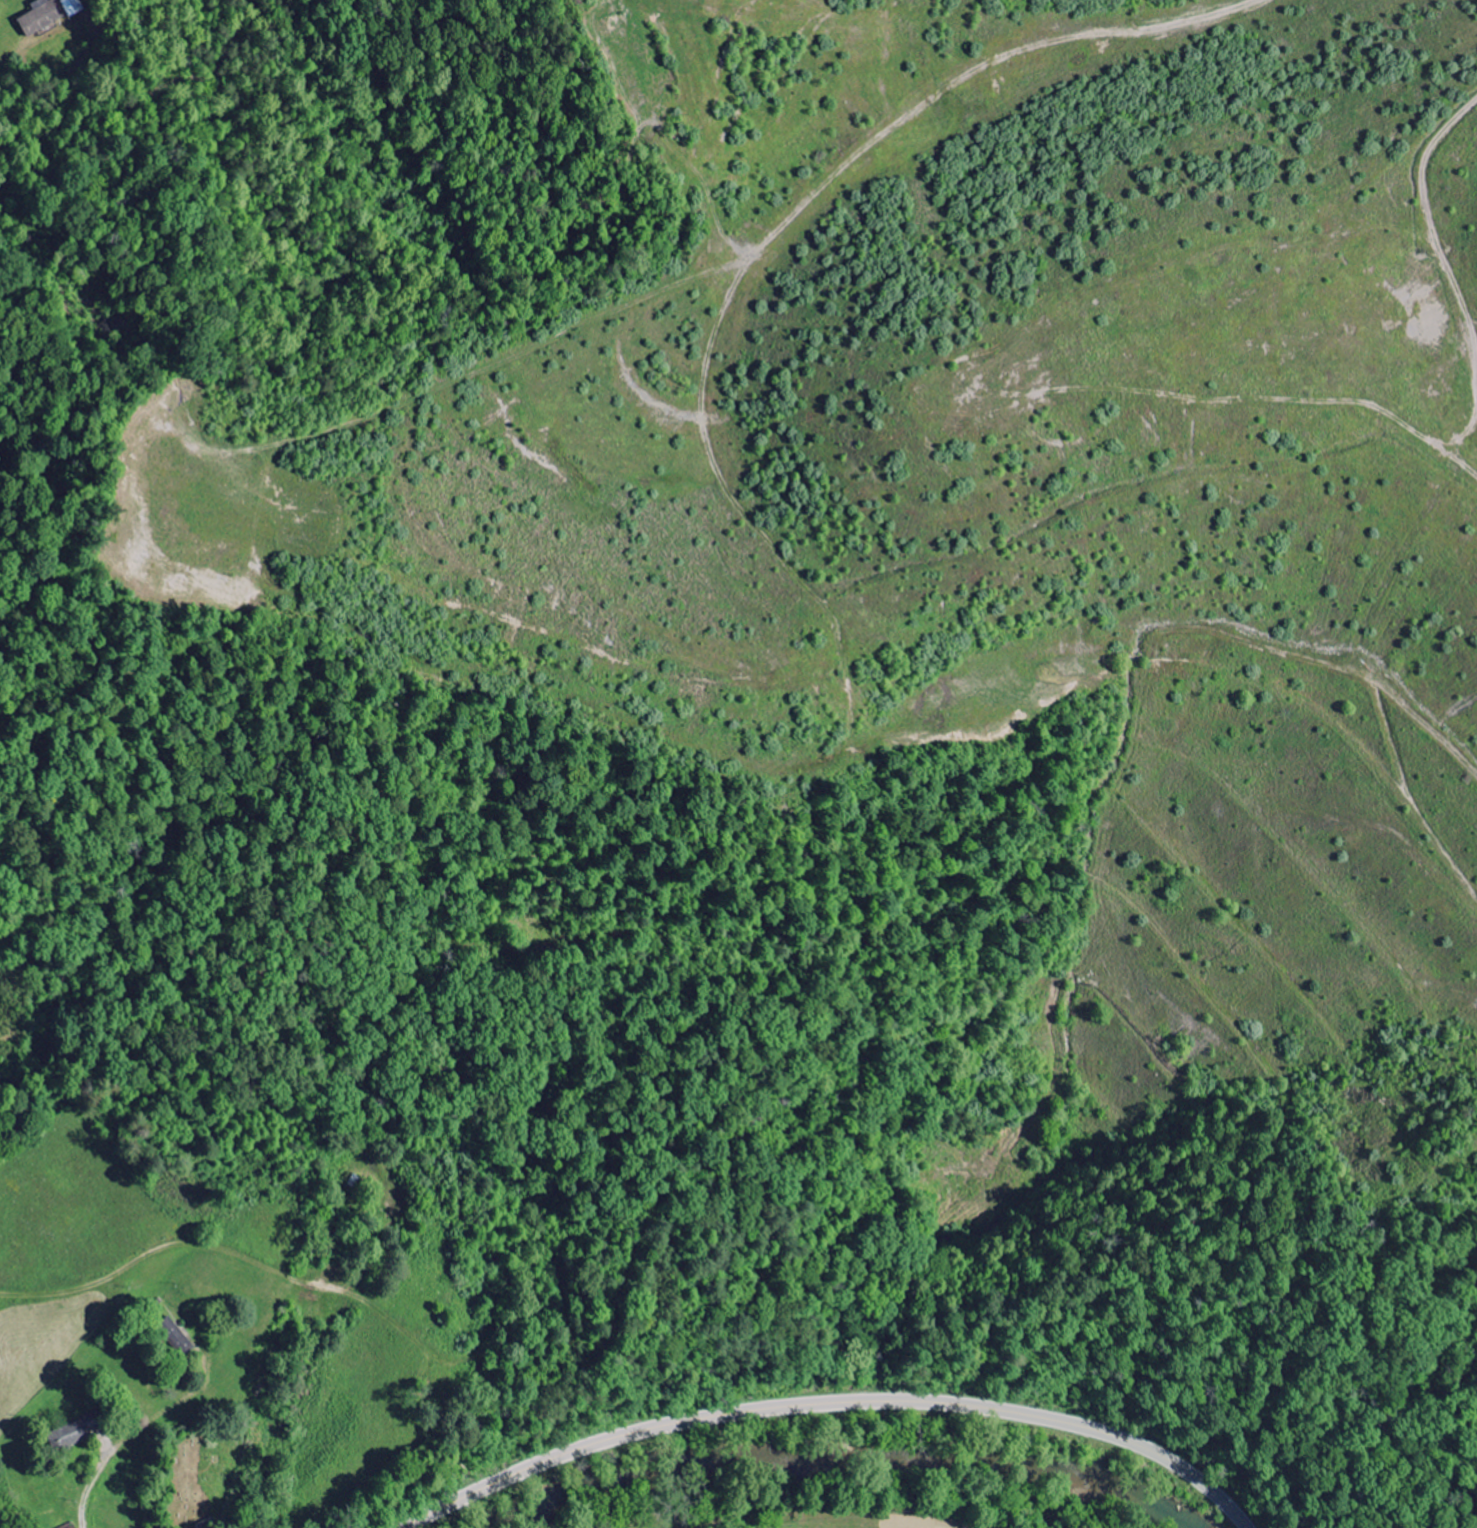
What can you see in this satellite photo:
building: (74, 7)
building: (44, 16)
quarry: (920, 578)
road: (833, 1404)
building: (75, 1434)
road: (131, 1440)
park: (198, 1475)

